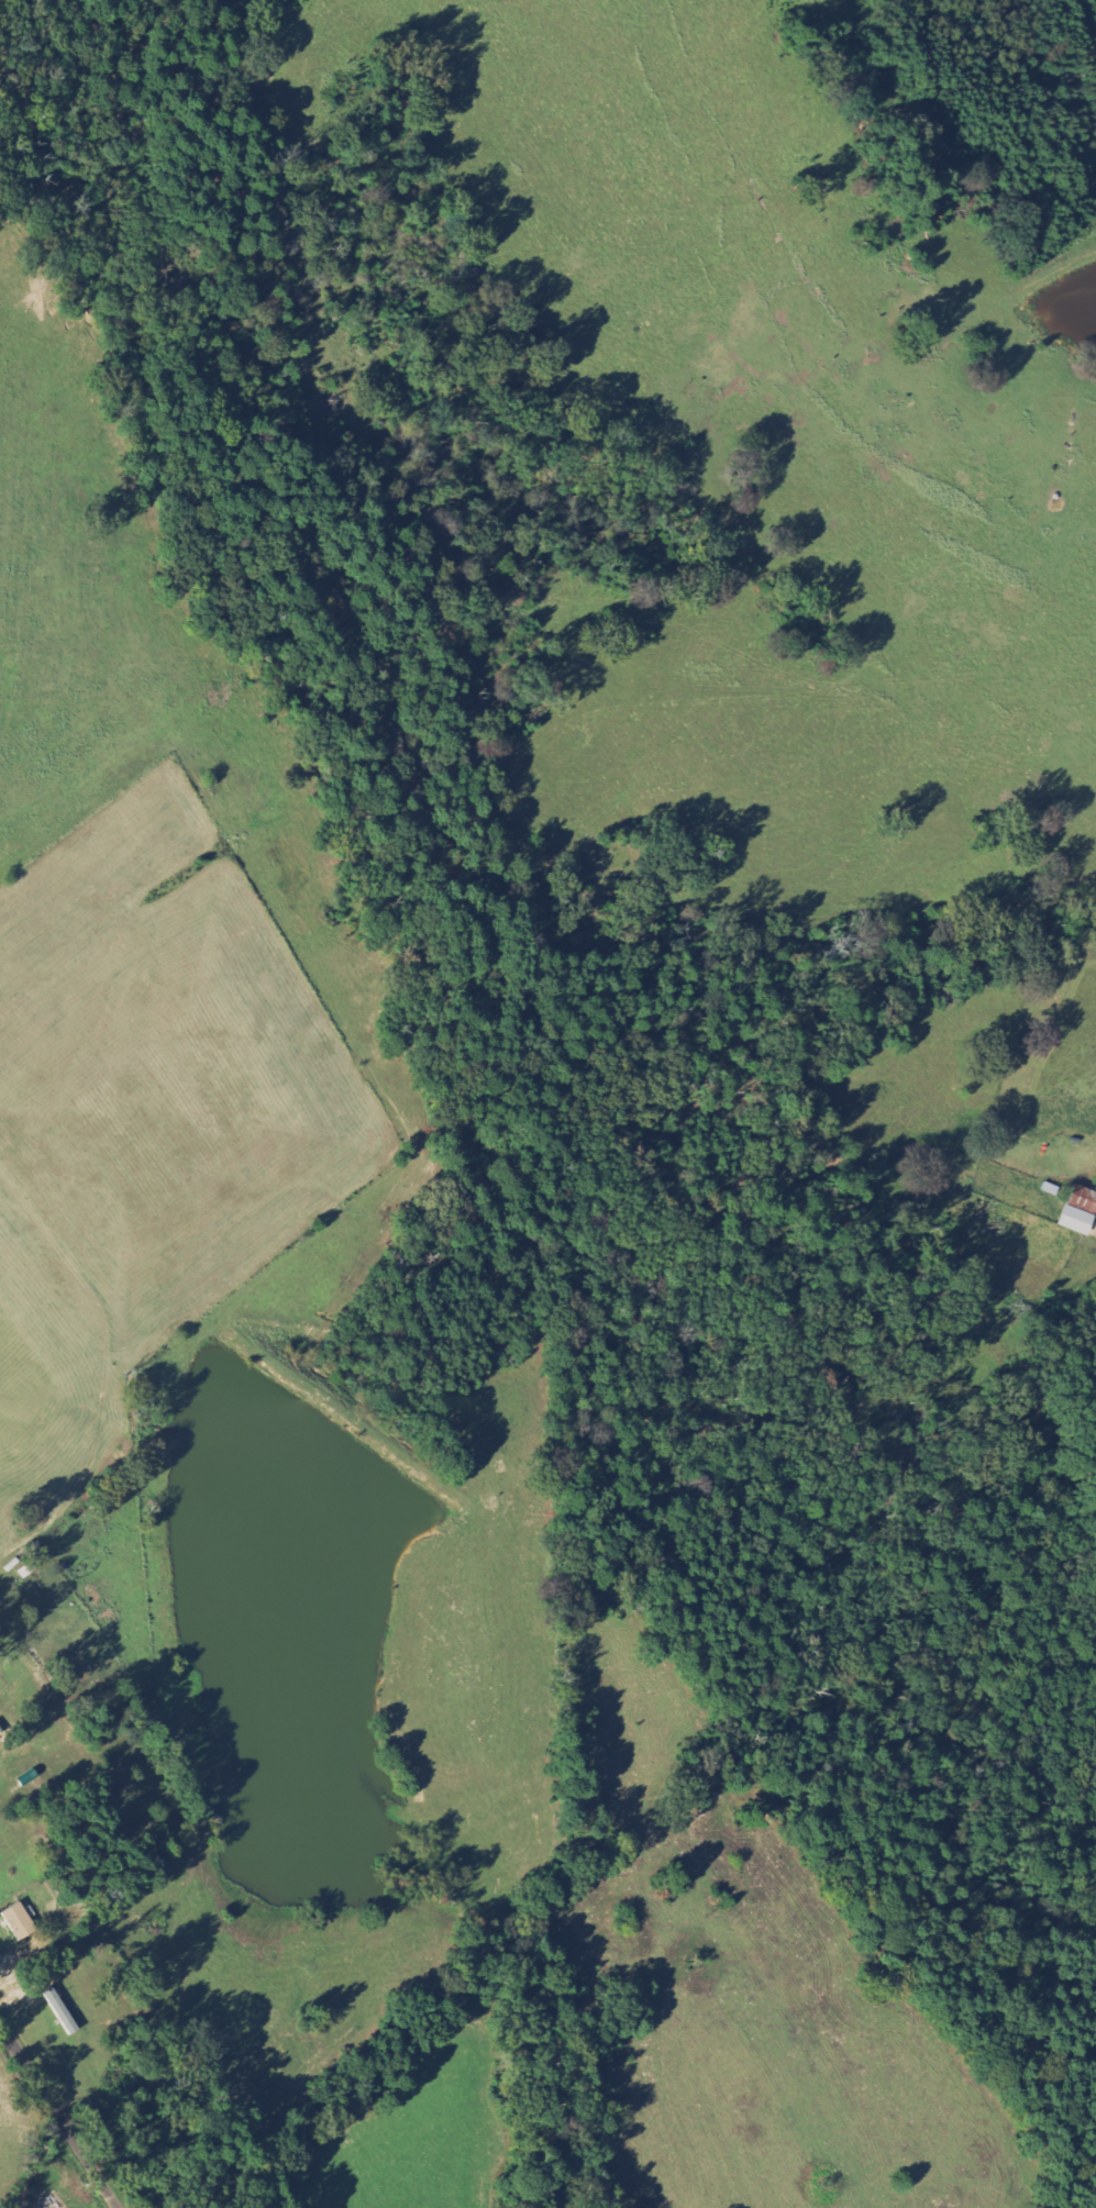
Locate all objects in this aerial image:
building: (1078, 1211)
building: (19, 1922)
building: (59, 2010)
road: (42, 2123)
building: (45, 2204)

